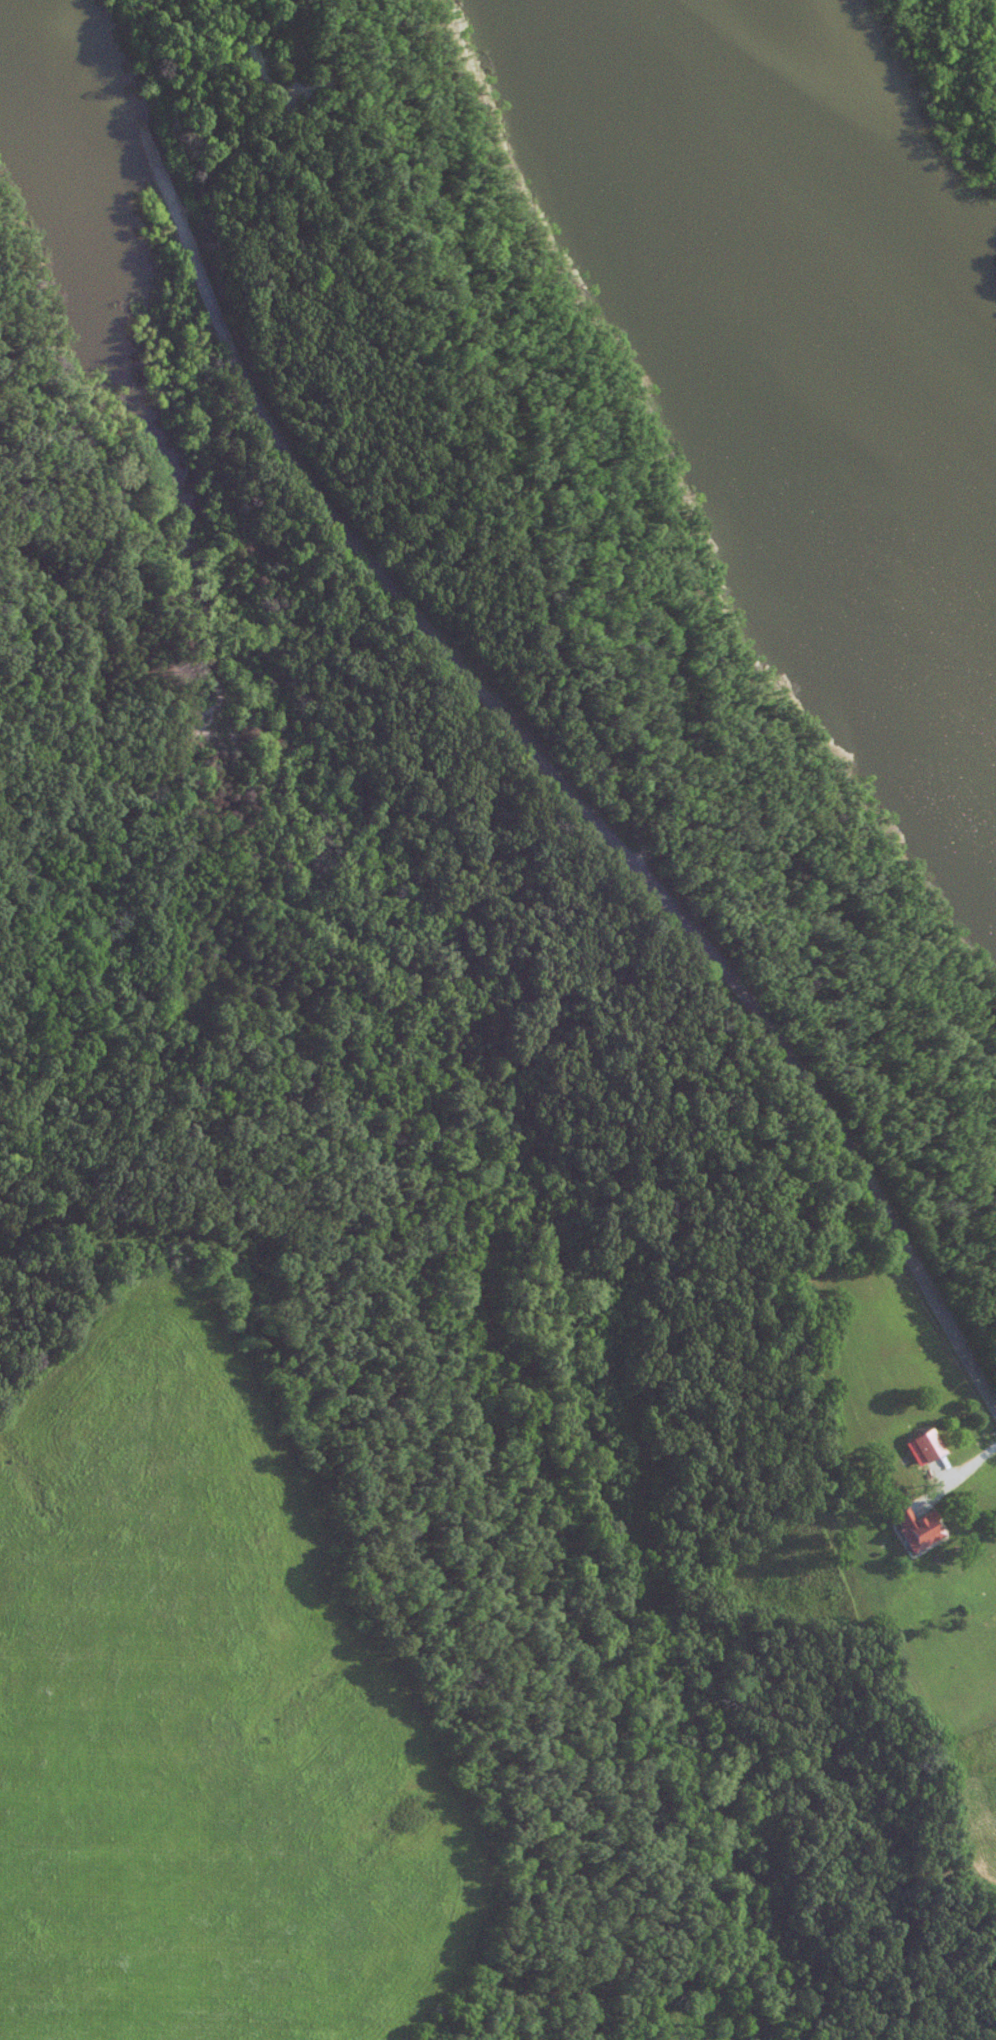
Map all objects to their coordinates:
river: (826, 330)
road: (520, 740)
building: (924, 1444)
road: (959, 1461)
building: (915, 1529)

